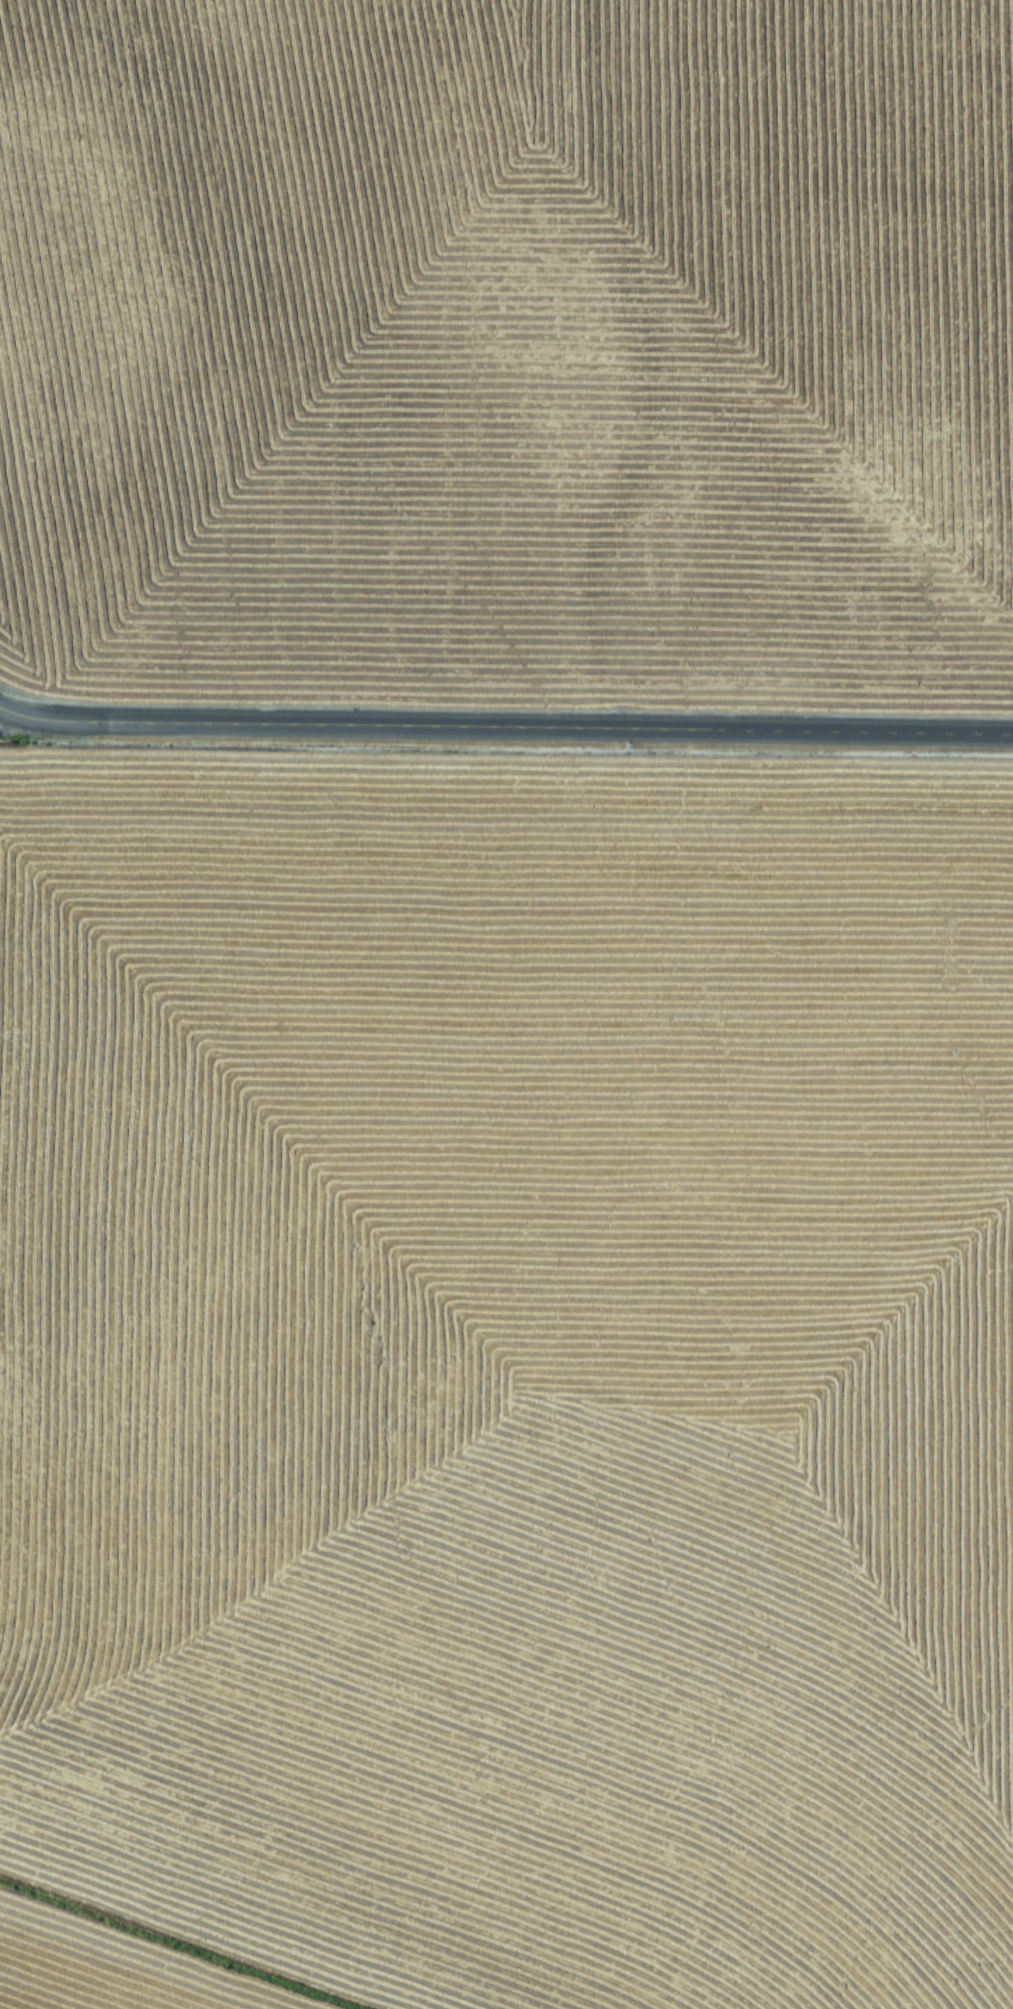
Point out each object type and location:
crop: (508, 339)
road: (506, 726)
crop: (506, 1399)

